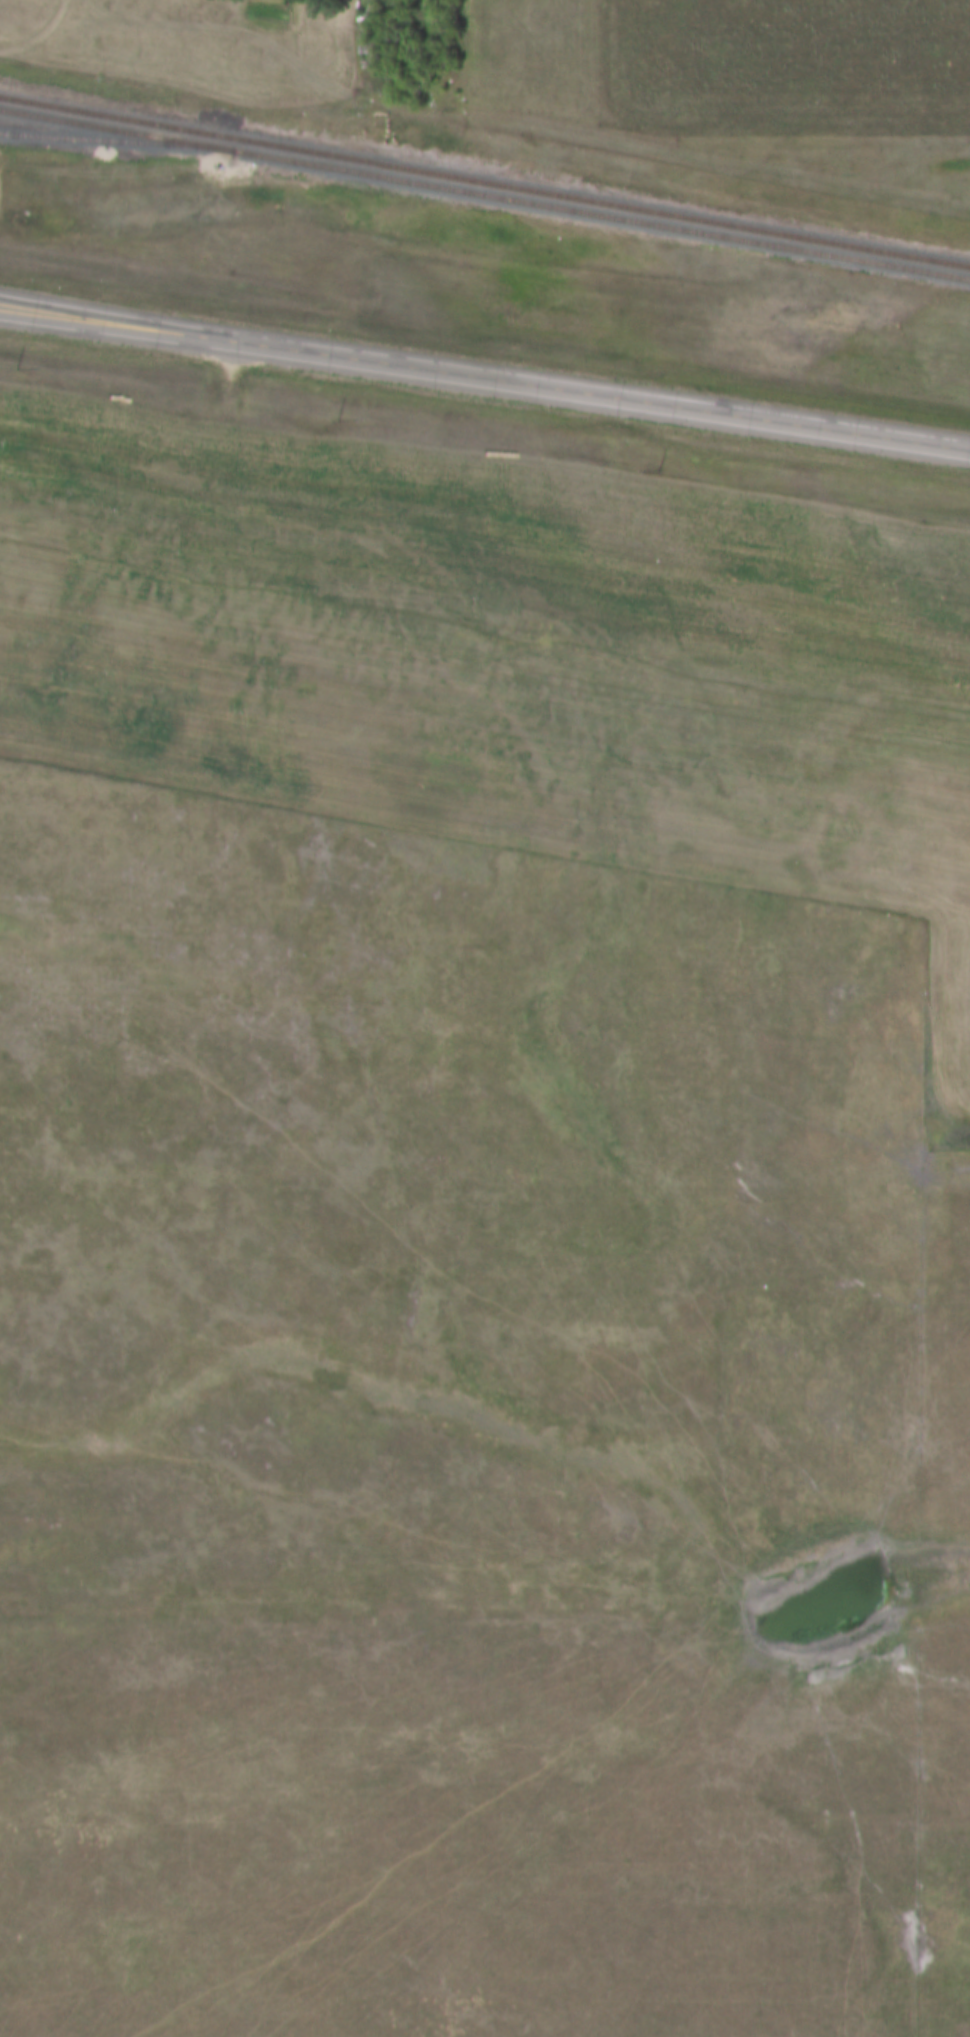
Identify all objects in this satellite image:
road: (40, 35)
railway: (116, 141)
railway: (484, 183)
railway: (485, 195)
road: (484, 380)
road: (229, 425)

